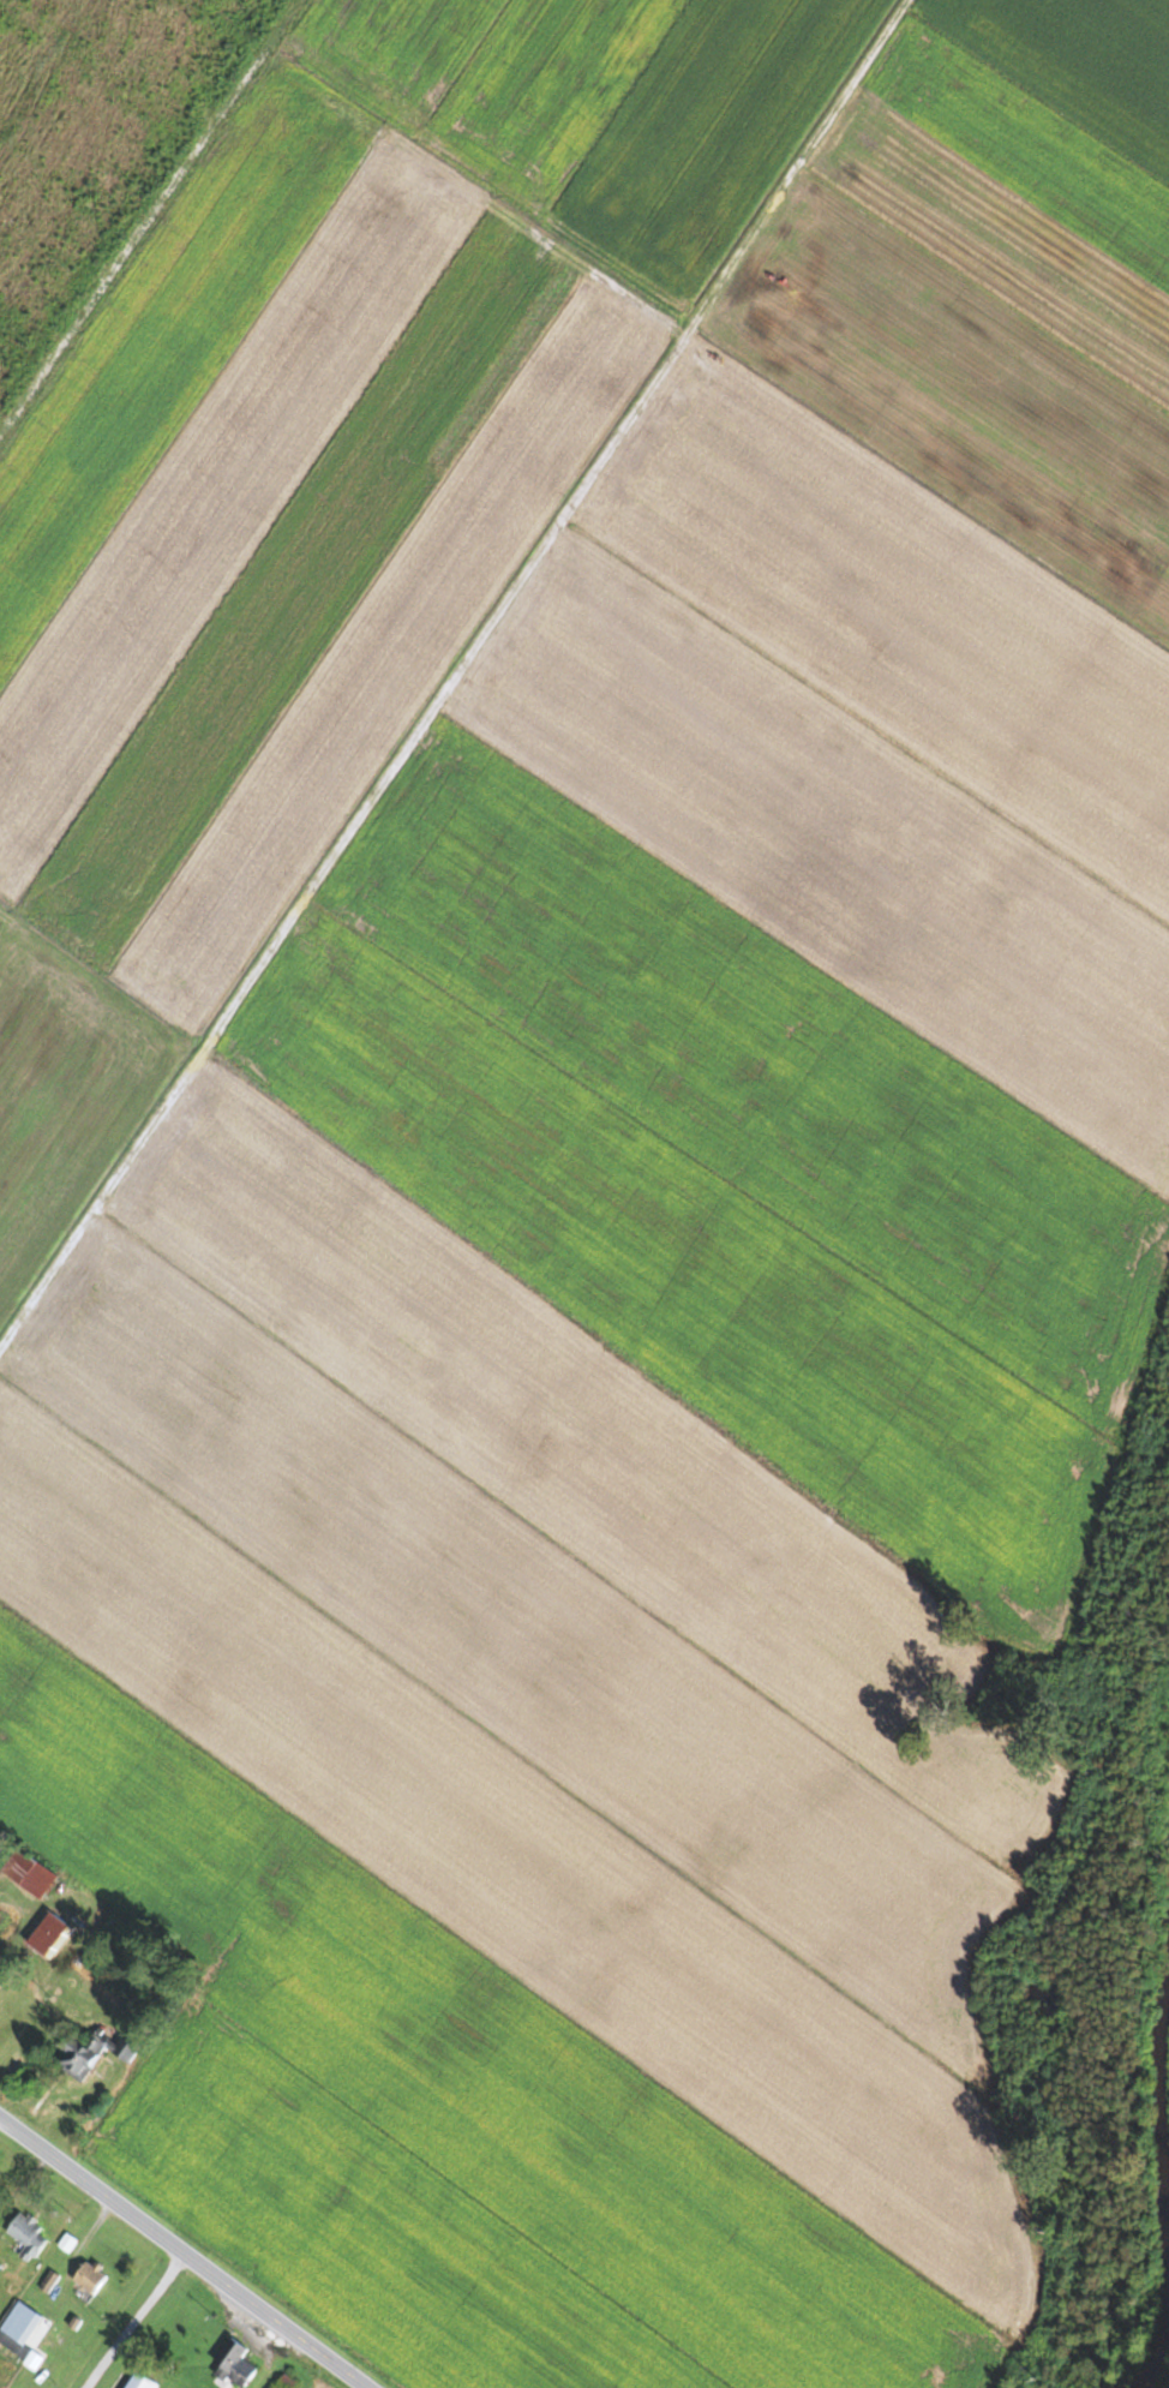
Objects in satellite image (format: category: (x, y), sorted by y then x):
road: (457, 678)
building: (30, 1873)
building: (6, 1927)
building: (48, 1934)
building: (95, 2053)
building: (28, 2234)
road: (179, 2257)
building: (90, 2278)
building: (49, 2281)
road: (132, 2323)
building: (19, 2330)
building: (234, 2364)
road: (1165, 2378)
building: (140, 2382)
building: (284, 2382)

